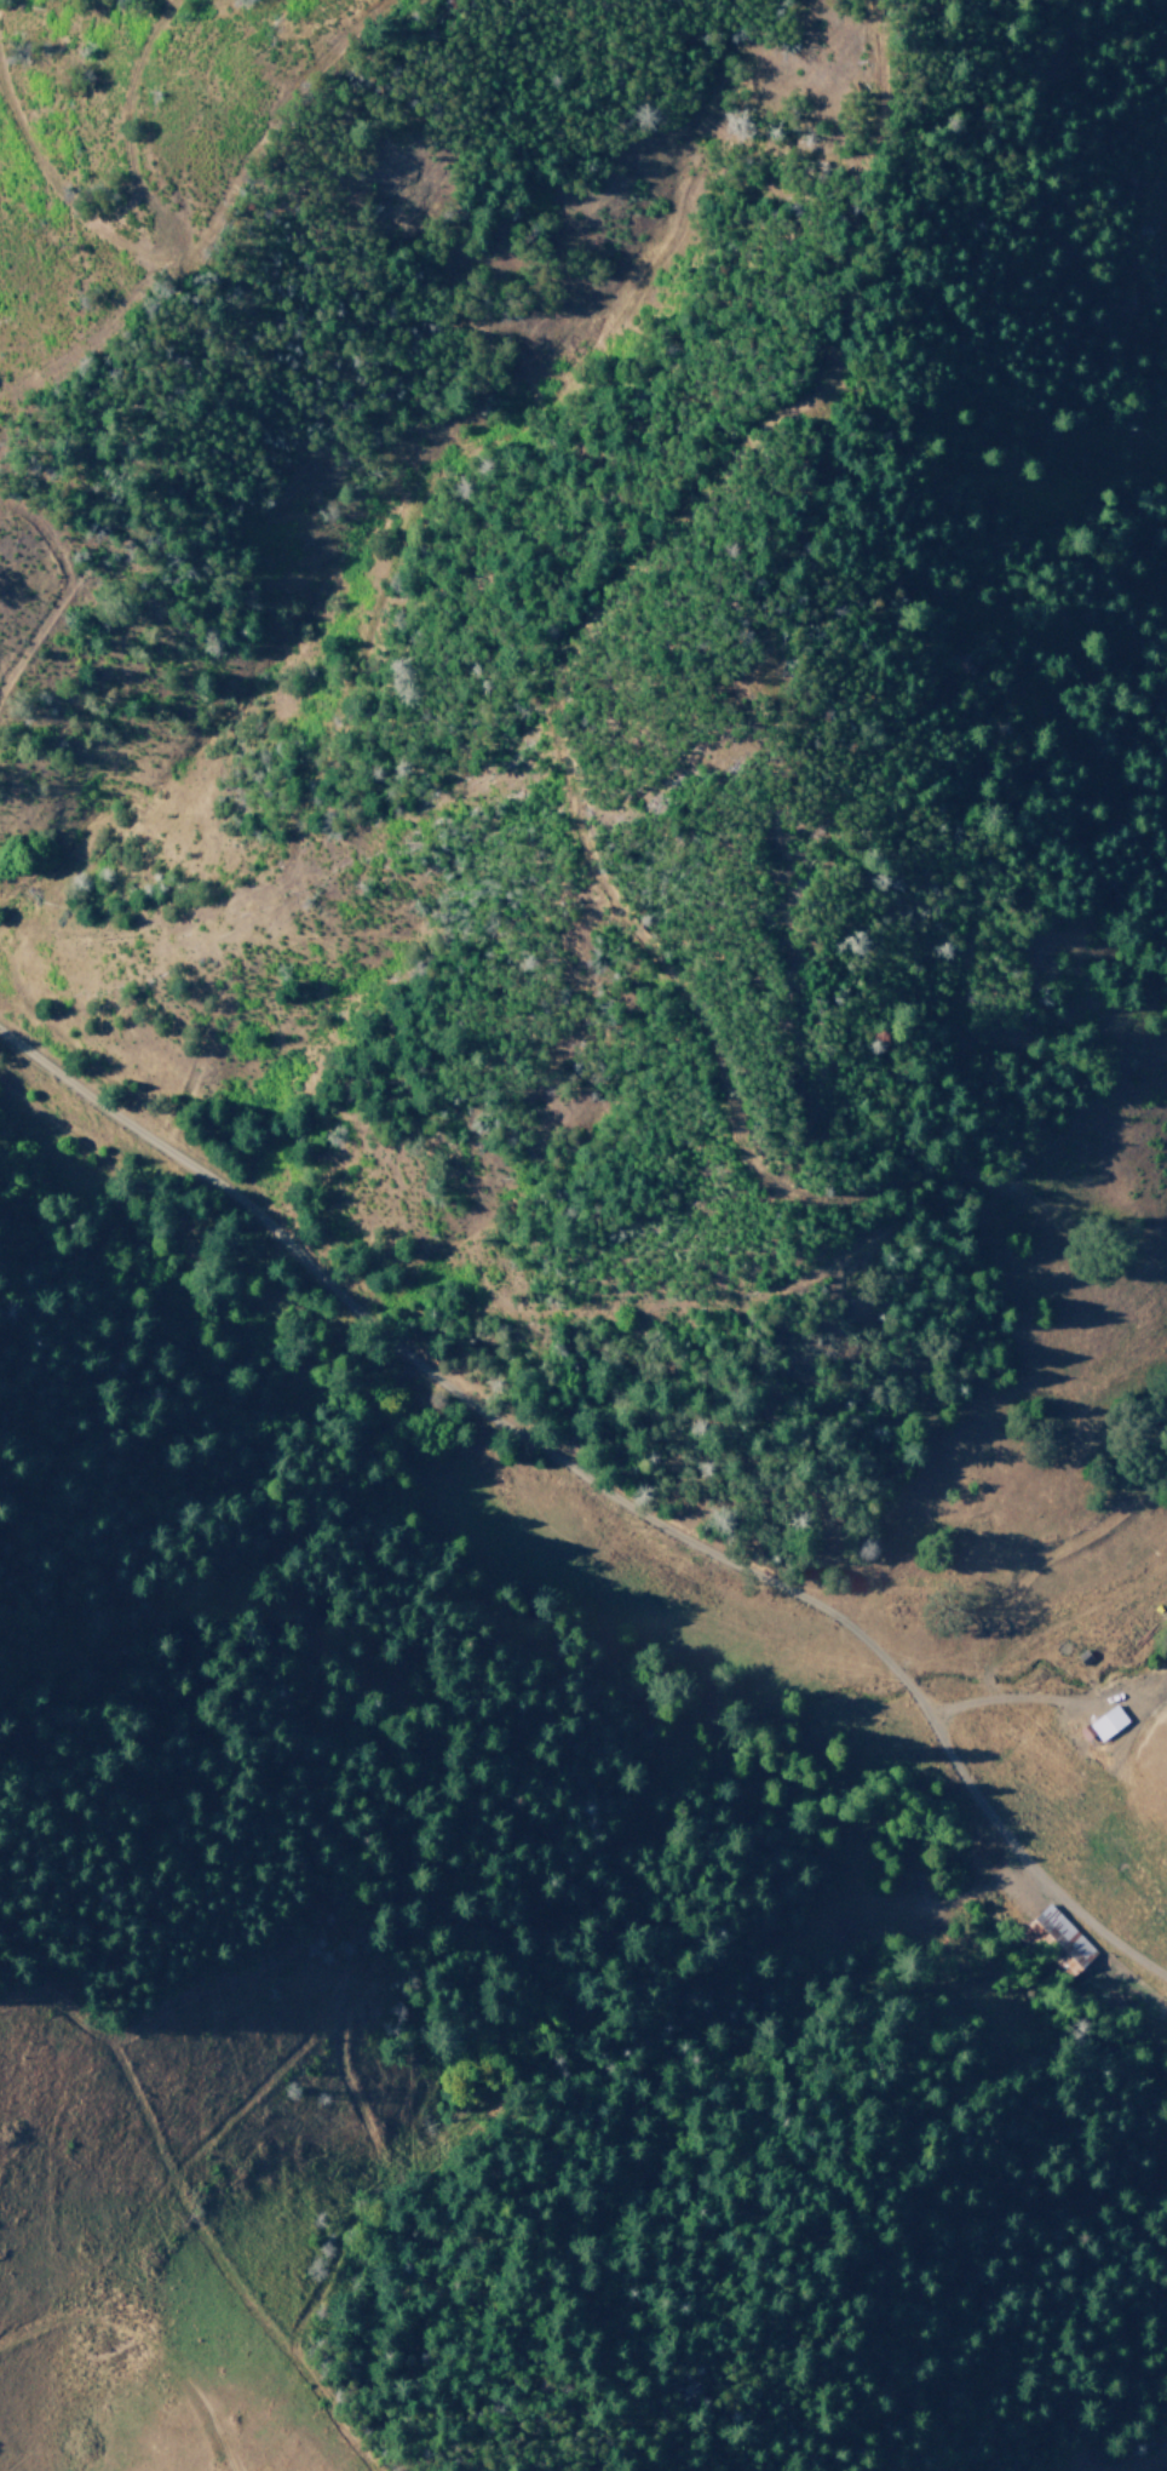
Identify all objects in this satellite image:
road: (602, 1497)

